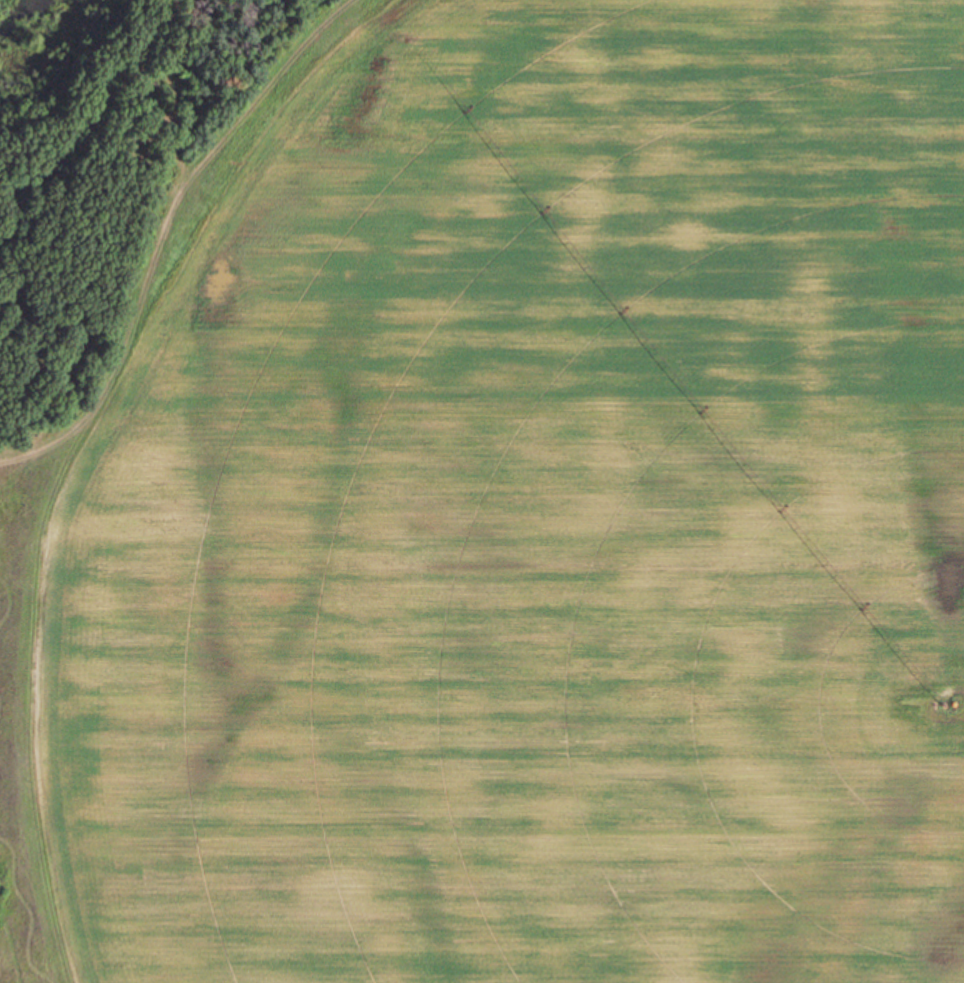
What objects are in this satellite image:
crop: (517, 521)

